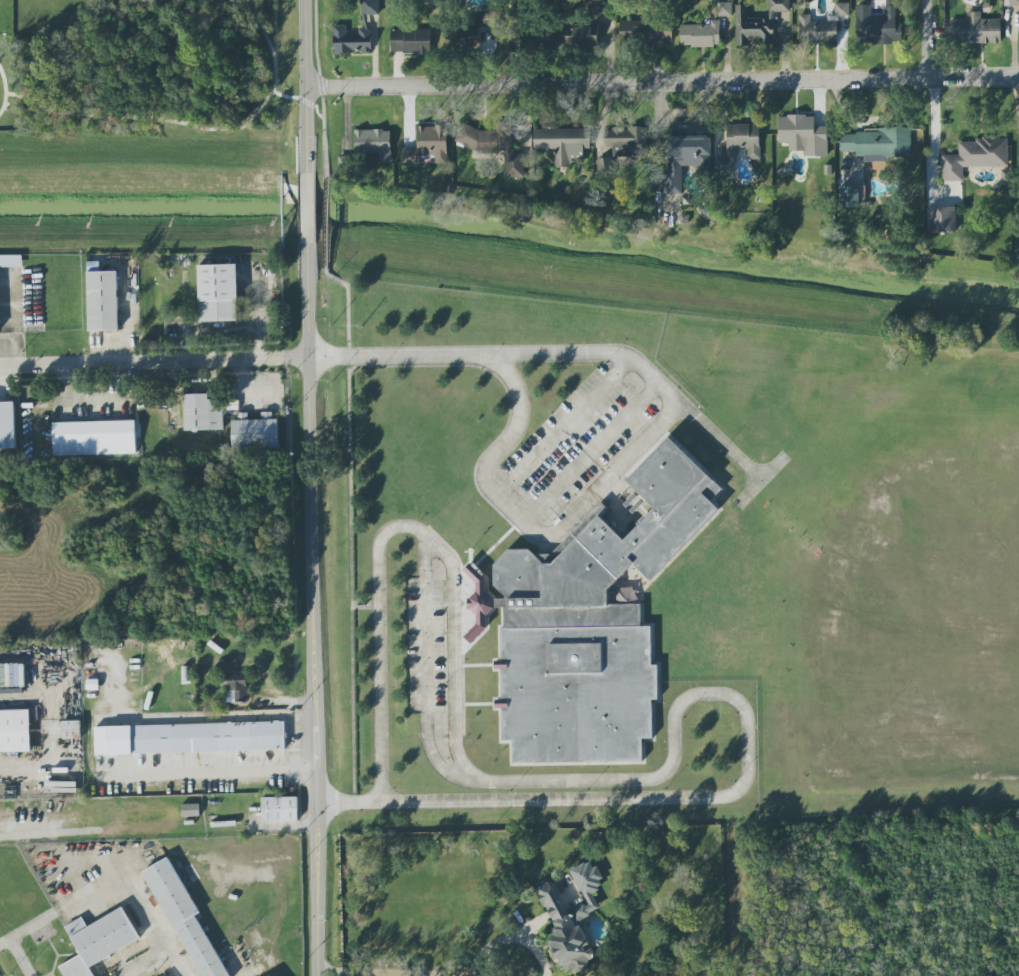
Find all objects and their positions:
building: (1011, 3)
building: (370, 7)
building: (597, 7)
building: (725, 9)
building: (842, 9)
building: (757, 23)
building: (877, 26)
building: (646, 30)
building: (817, 30)
building: (975, 30)
building: (701, 34)
building: (581, 37)
building: (539, 38)
building: (354, 39)
road: (927, 39)
building: (410, 41)
road: (663, 81)
road: (307, 86)
road: (4, 89)
road: (289, 96)
road: (193, 126)
building: (803, 135)
building: (374, 143)
building: (563, 143)
building: (875, 143)
building: (428, 145)
building: (494, 145)
building: (622, 146)
building: (740, 146)
building: (974, 157)
building: (684, 159)
building: (849, 196)
road: (307, 208)
building: (946, 219)
building: (10, 262)
building: (214, 292)
building: (99, 301)
road: (221, 327)
road: (559, 355)
road: (154, 362)
building: (200, 413)
building: (5, 426)
road: (567, 428)
building: (253, 433)
building: (91, 438)
parking lot: (578, 442)
road: (591, 451)
road: (762, 479)
road: (524, 520)
road: (315, 609)
building: (599, 623)
parking lot: (426, 647)
building: (15, 675)
road: (426, 679)
building: (234, 687)
road: (45, 728)
building: (72, 729)
building: (15, 731)
building: (191, 738)
road: (211, 772)
road: (575, 781)
road: (351, 804)
building: (280, 809)
building: (190, 810)
road: (133, 886)
building: (572, 918)
building: (186, 920)
road: (24, 930)
road: (500, 940)
building: (99, 941)
road: (536, 951)
road: (15, 958)
road: (388, 970)

